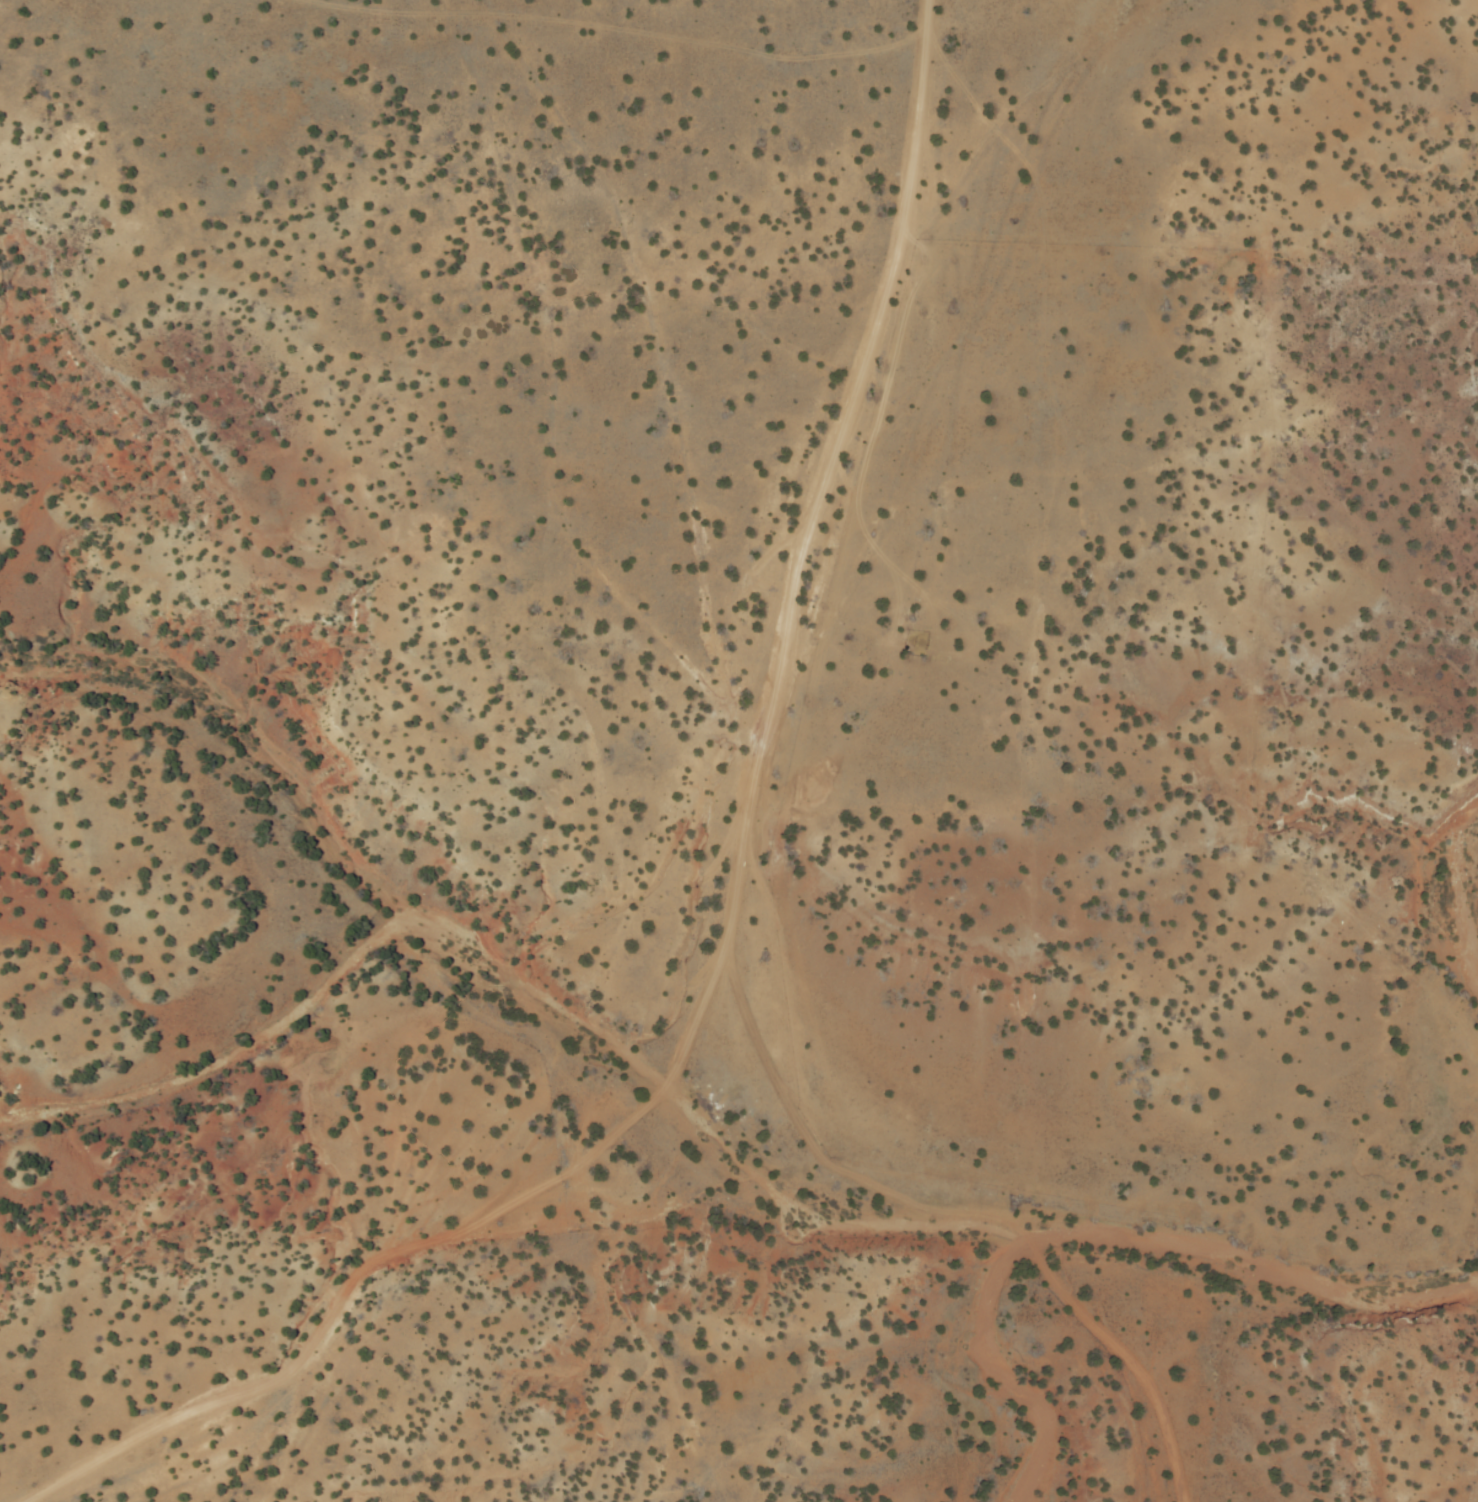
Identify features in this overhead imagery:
road: (1111, 84)
road: (746, 911)

